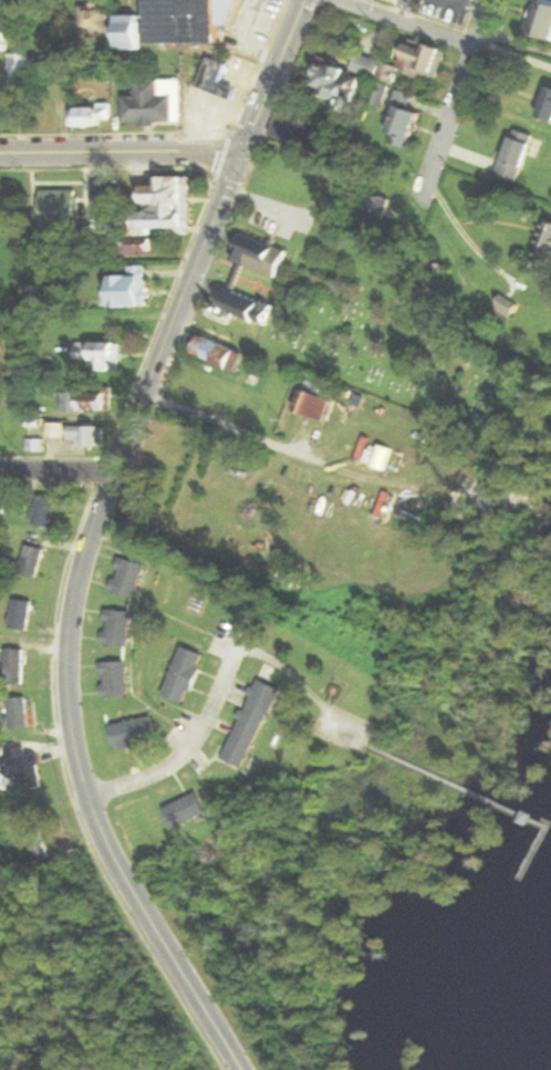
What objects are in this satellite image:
building: (96, 19)
building: (541, 19)
building: (193, 20)
road: (415, 22)
road: (486, 22)
building: (8, 30)
building: (132, 32)
building: (427, 61)
building: (20, 63)
road: (273, 74)
building: (218, 77)
building: (357, 77)
building: (157, 103)
building: (548, 108)
building: (91, 115)
building: (405, 115)
building: (289, 122)
road: (449, 122)
traffic signals: (243, 149)
road: (122, 150)
building: (519, 156)
building: (166, 207)
building: (60, 208)
building: (378, 209)
road: (469, 240)
building: (142, 245)
building: (545, 246)
building: (261, 256)
building: (129, 289)
building: (40, 295)
building: (242, 305)
building: (508, 309)
building: (221, 353)
building: (102, 354)
building: (198, 382)
building: (283, 395)
building: (87, 402)
building: (319, 404)
road: (216, 427)
building: (56, 429)
building: (0, 435)
building: (87, 435)
building: (37, 445)
building: (180, 449)
road: (58, 469)
building: (0, 506)
building: (46, 510)
building: (539, 512)
building: (129, 540)
building: (33, 560)
building: (128, 576)
building: (23, 614)
road: (71, 615)
building: (118, 627)
building: (17, 666)
building: (185, 675)
building: (116, 679)
building: (20, 713)
building: (253, 724)
building: (136, 733)
road: (198, 740)
building: (25, 767)
building: (188, 810)
building: (35, 833)

